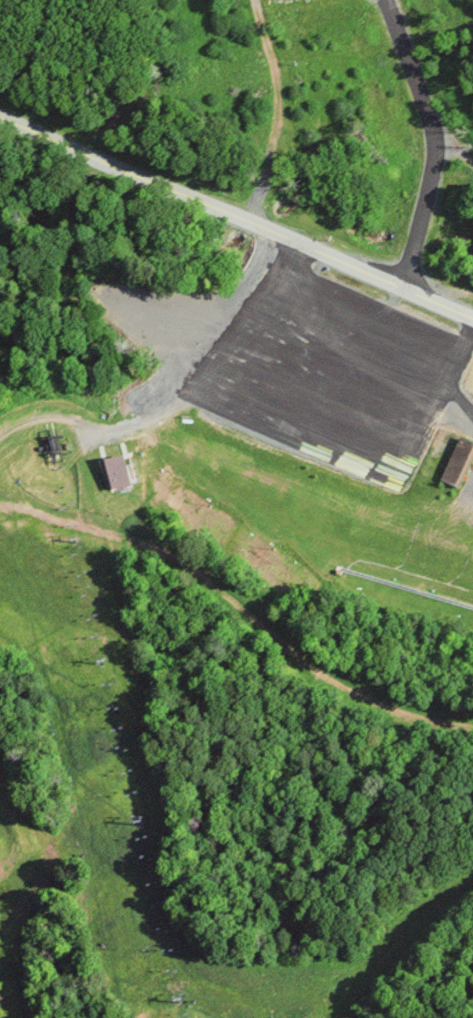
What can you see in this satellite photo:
road: (429, 143)
road: (452, 147)
road: (237, 215)
parking lot: (323, 381)
building: (455, 462)
building: (112, 471)
parking lot: (470, 498)
aerialway pylon: (68, 536)
ski resort: (231, 570)
aerialway pylon: (96, 662)
aerialway pylon: (129, 812)
aerialway pylon: (171, 999)

